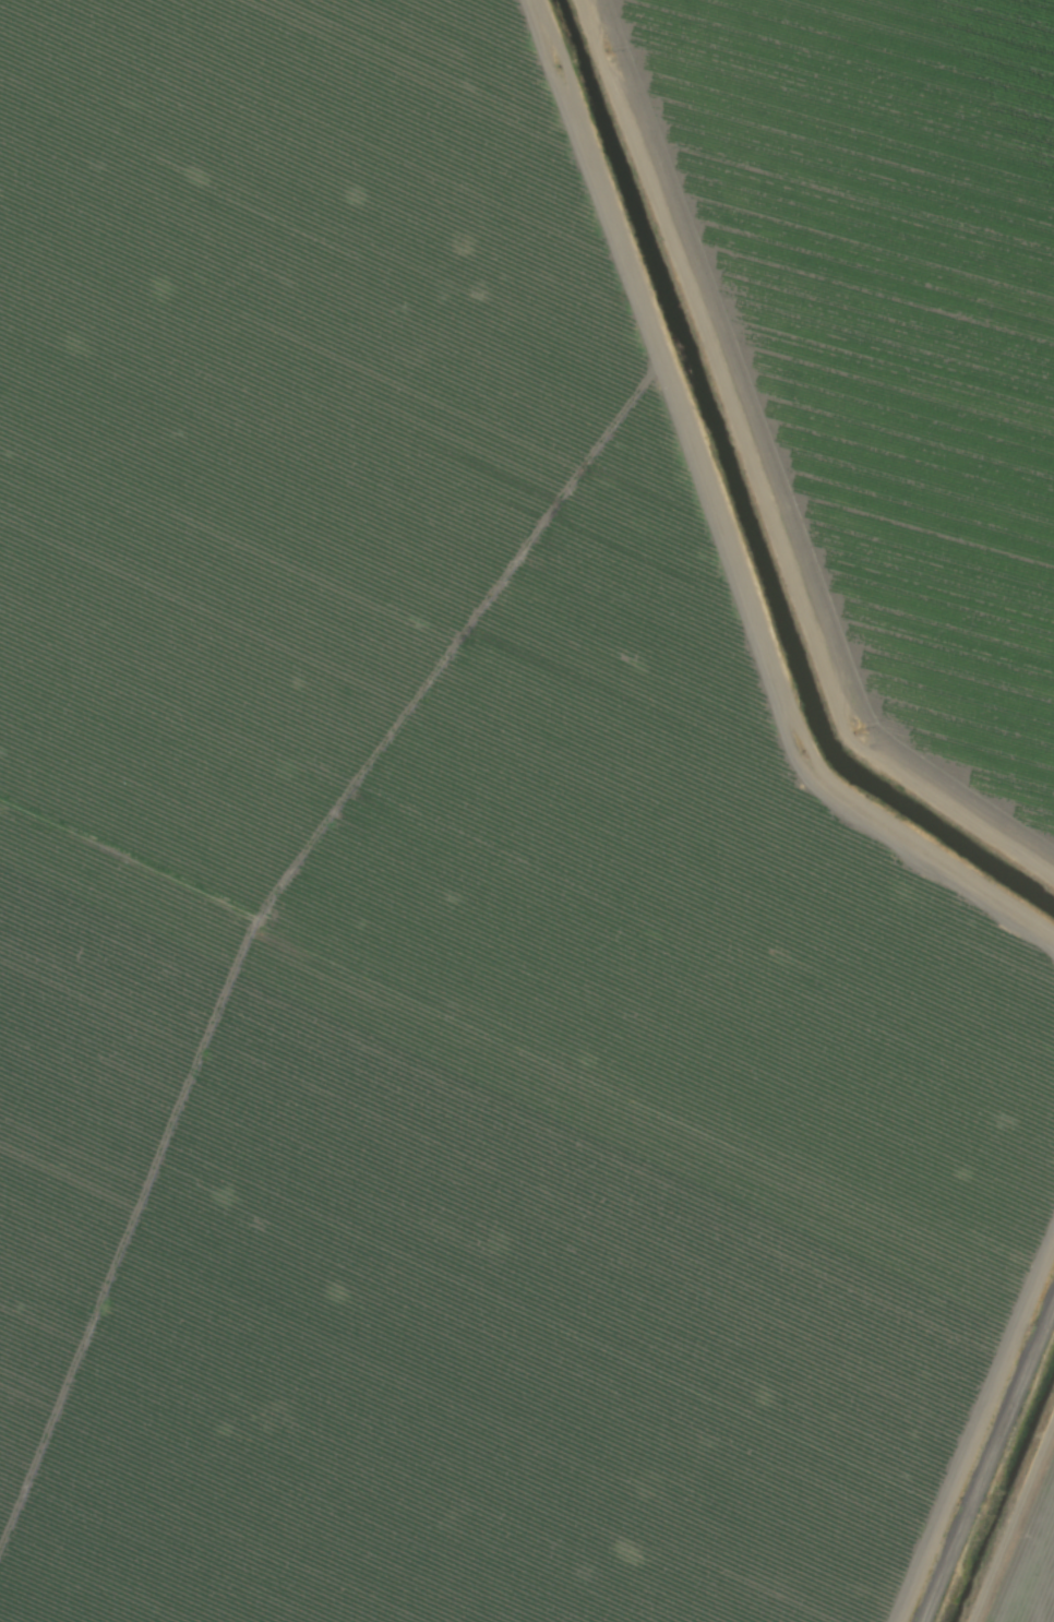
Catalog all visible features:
crop: (527, 811)
road: (991, 1470)

